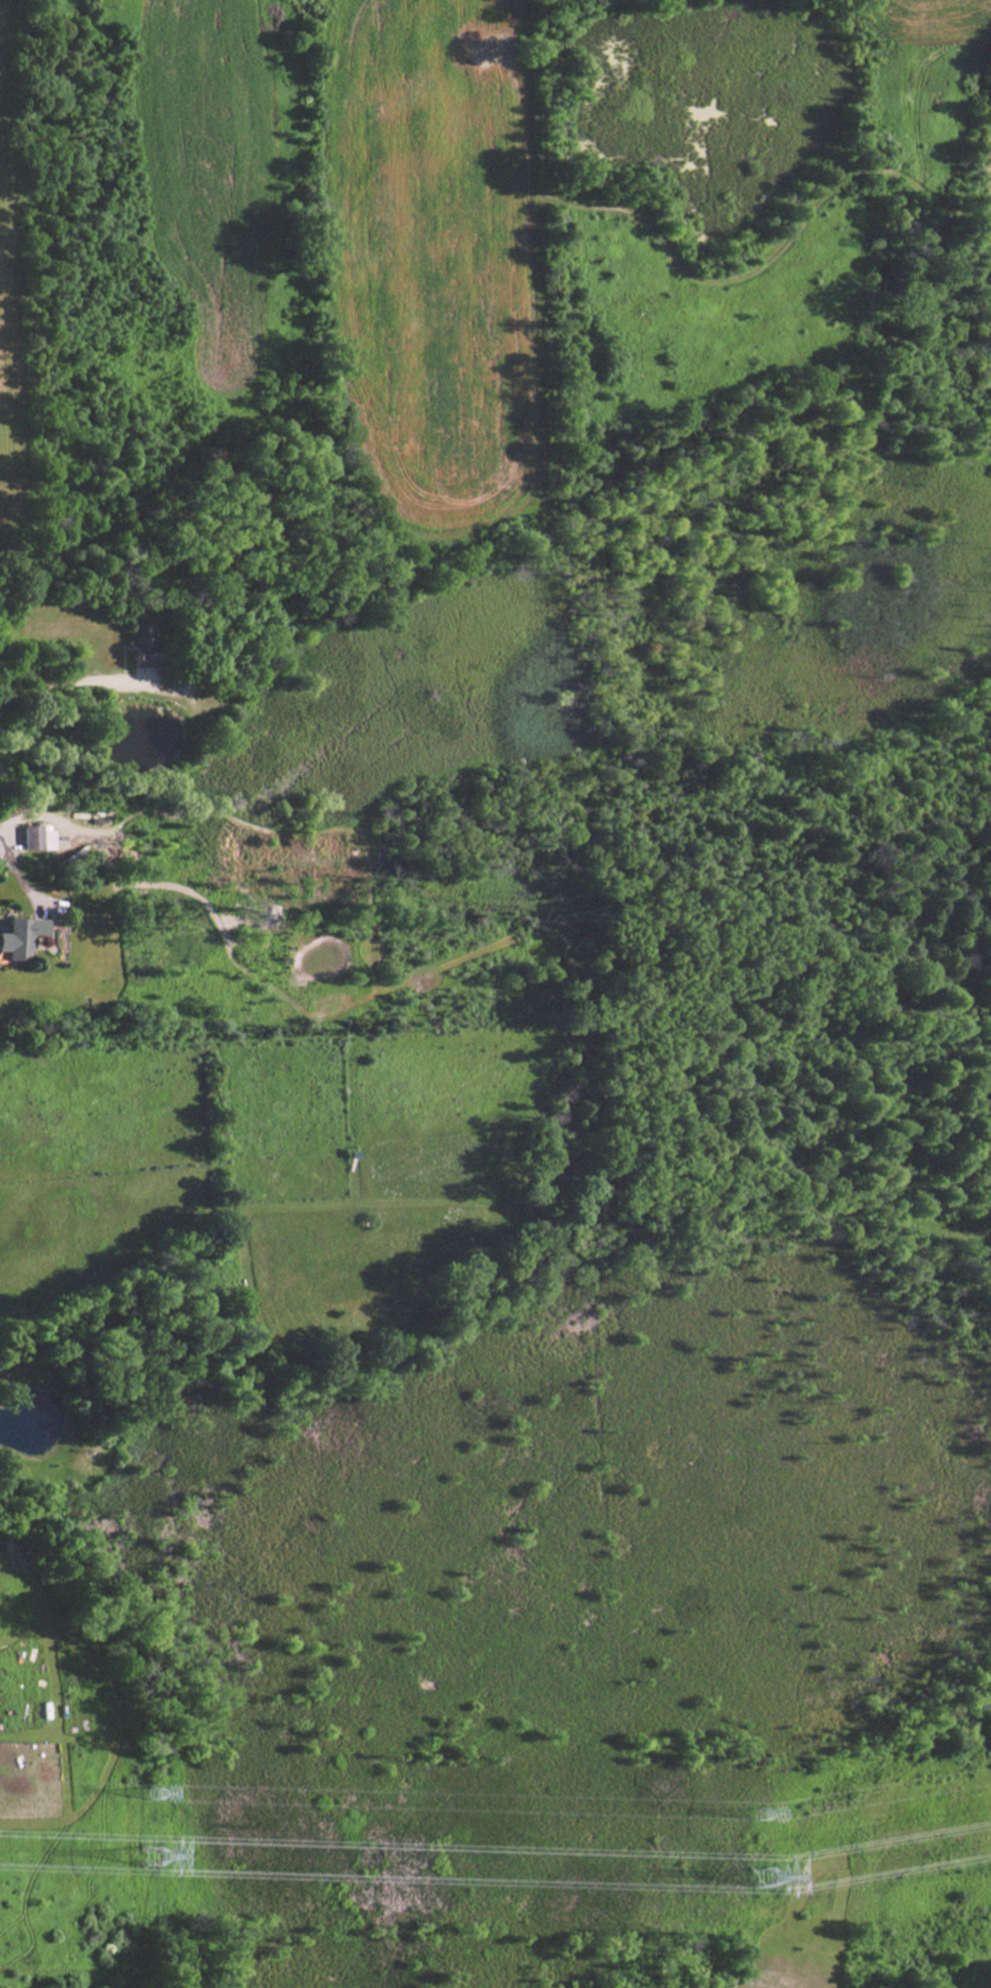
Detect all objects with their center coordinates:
building: (144, 644)
building: (218, 650)
road: (55, 679)
building: (37, 836)
road: (18, 873)
building: (21, 936)
power tower: (151, 1791)
power tower: (757, 1813)
power tower: (148, 1858)
power tower: (765, 1871)

